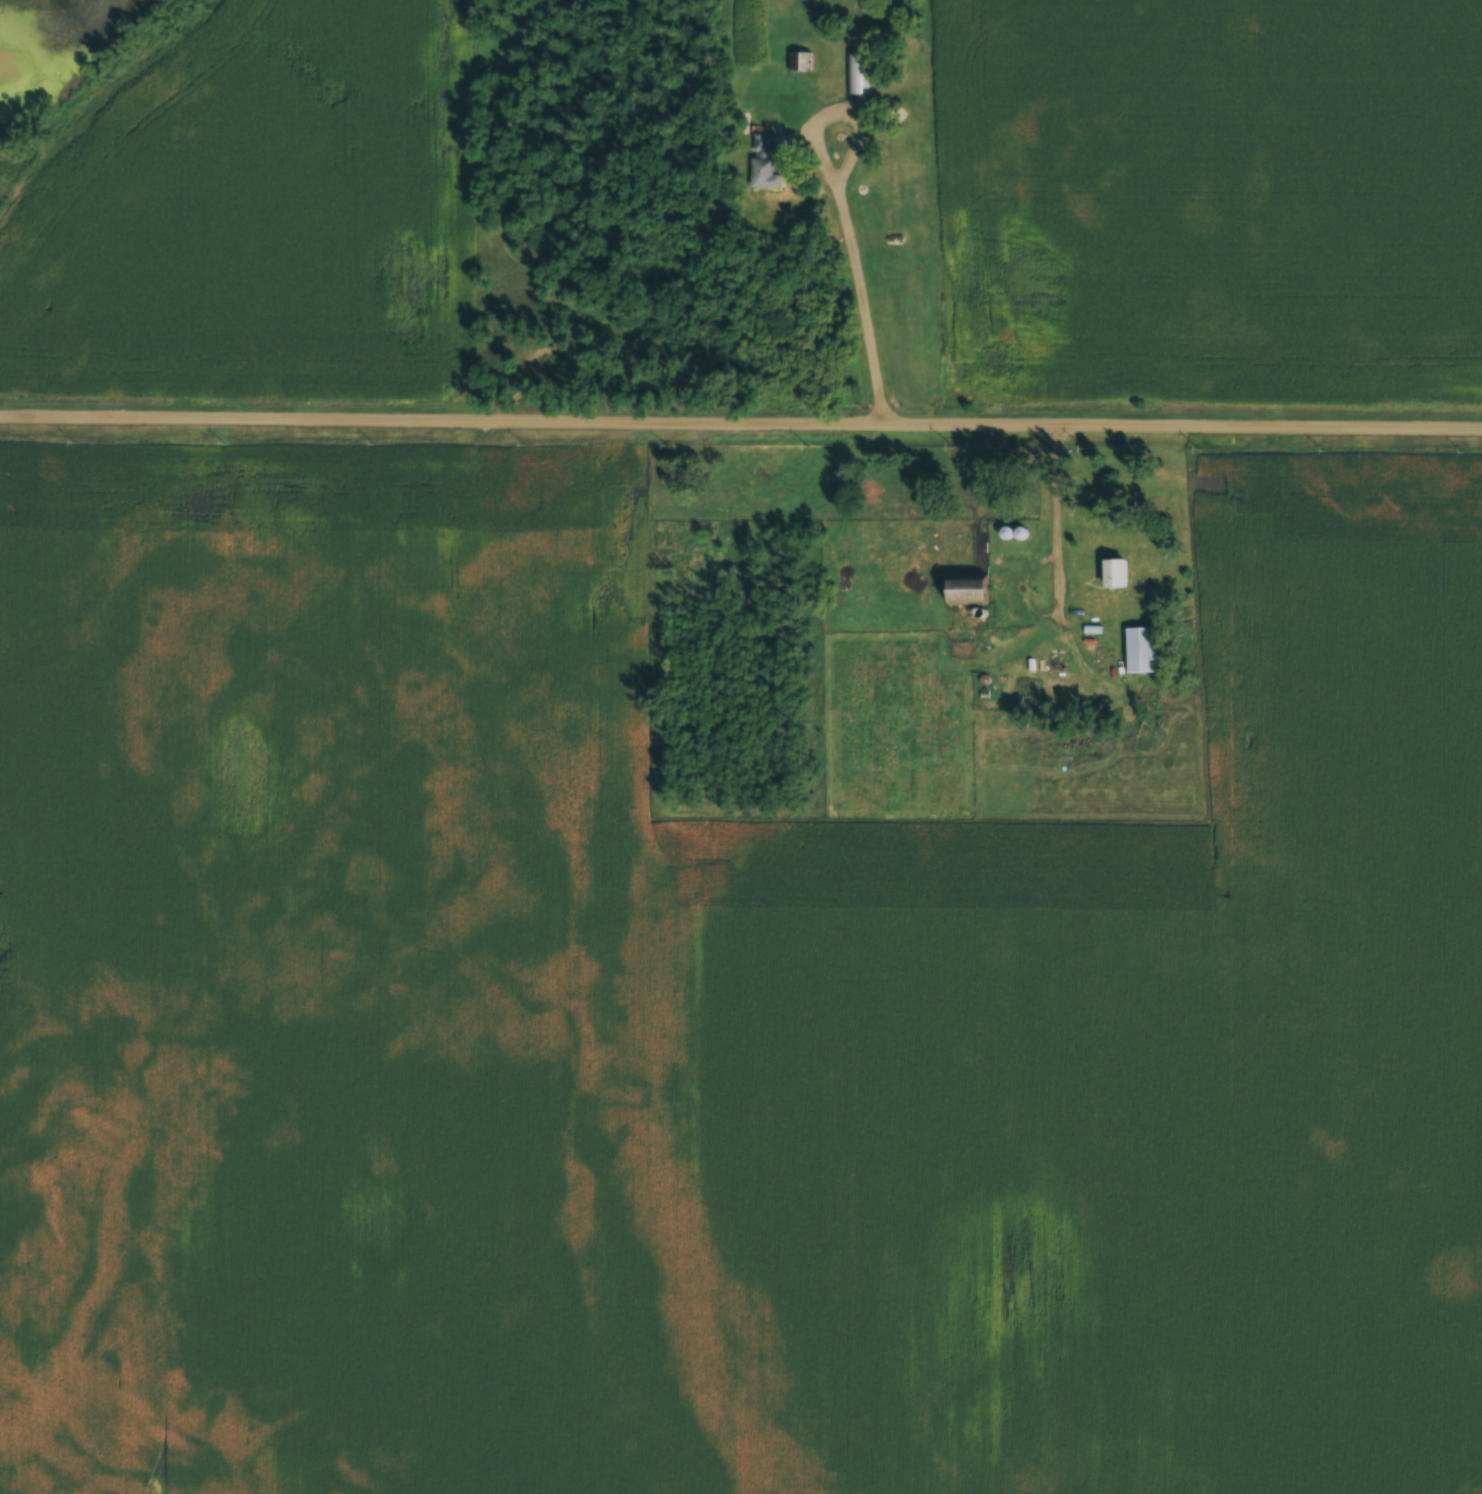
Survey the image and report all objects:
building: (951, 55)
building: (858, 74)
building: (938, 88)
building: (766, 163)
road: (844, 211)
road: (741, 420)
road: (1058, 569)
building: (1121, 574)
building: (974, 592)
building: (1145, 650)
building: (1059, 662)

